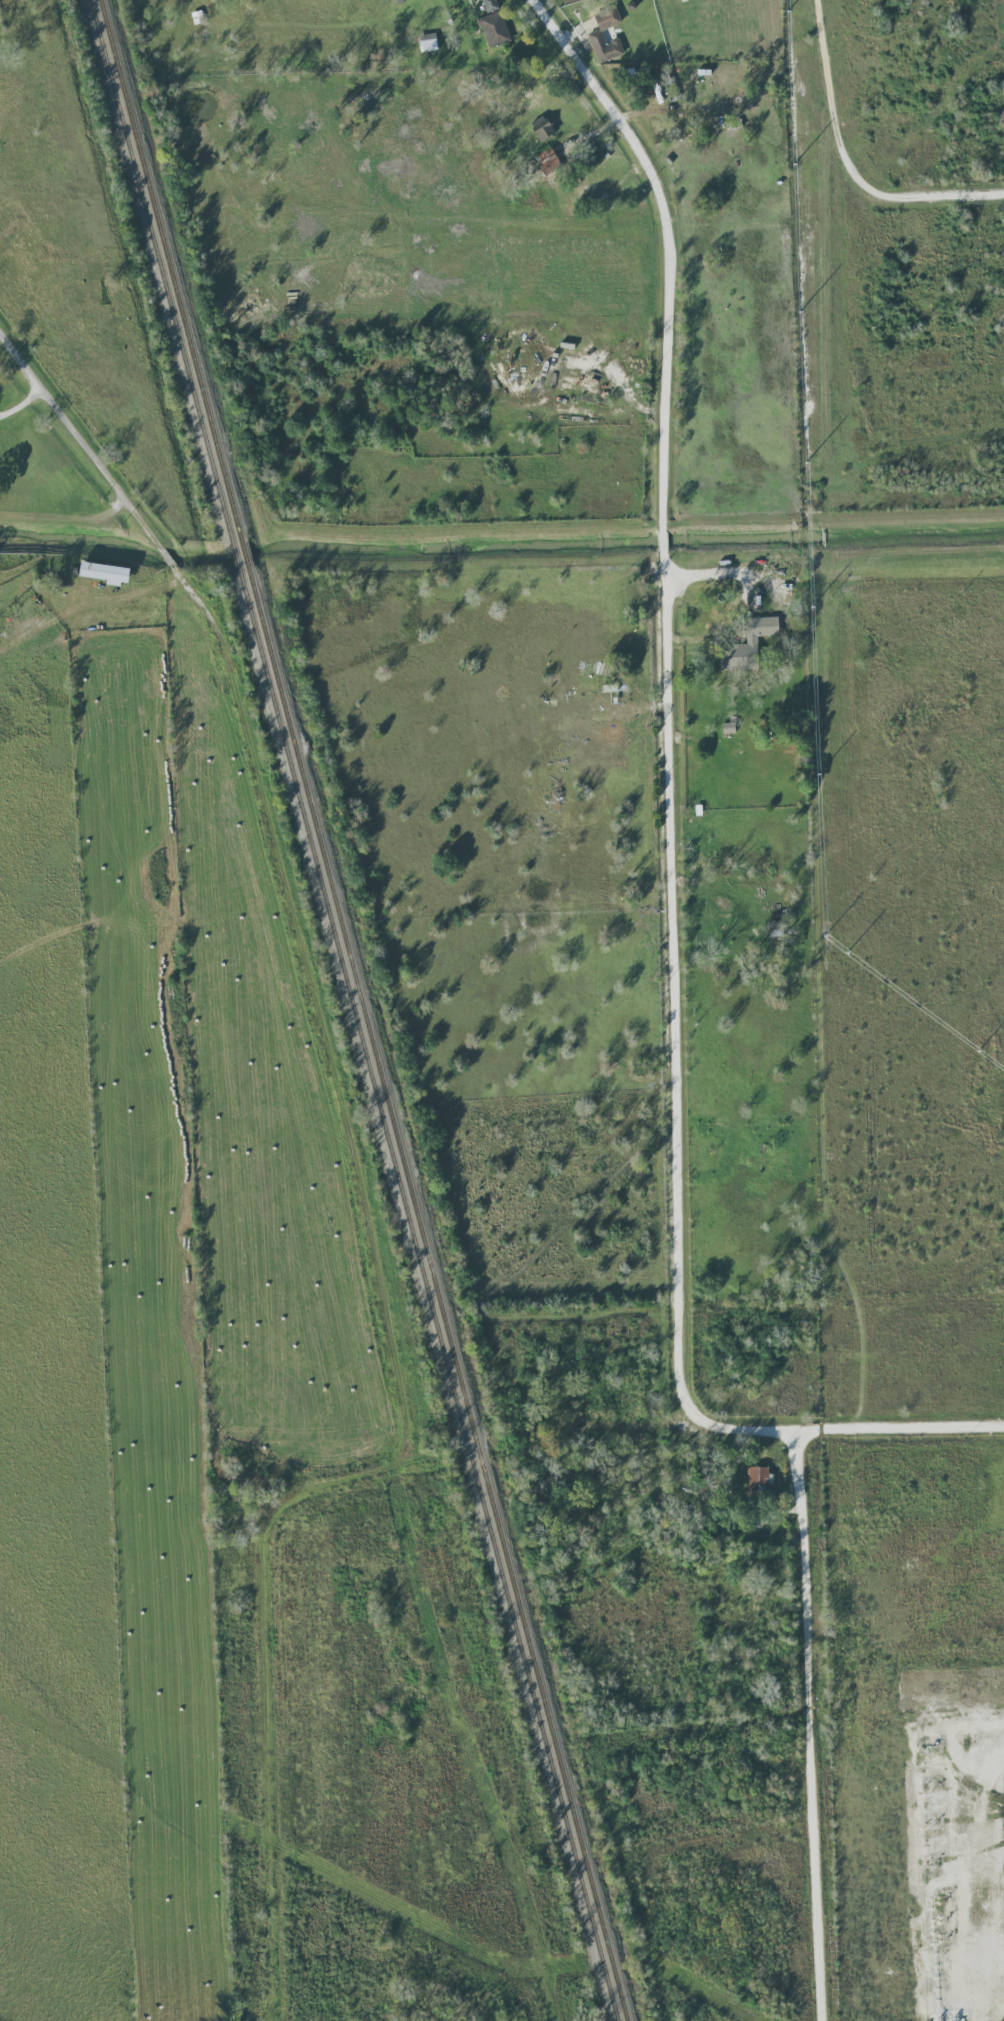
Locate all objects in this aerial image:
building: (493, 28)
building: (595, 35)
building: (427, 42)
building: (541, 127)
road: (837, 149)
building: (547, 160)
road: (982, 200)
road: (666, 245)
building: (476, 293)
road: (98, 464)
road: (65, 513)
road: (662, 539)
building: (105, 572)
building: (748, 643)
building: (728, 727)
road: (667, 770)
railway: (354, 1010)
railway: (363, 1010)
road: (675, 1255)
road: (899, 1428)
building: (757, 1475)
road: (808, 1725)

